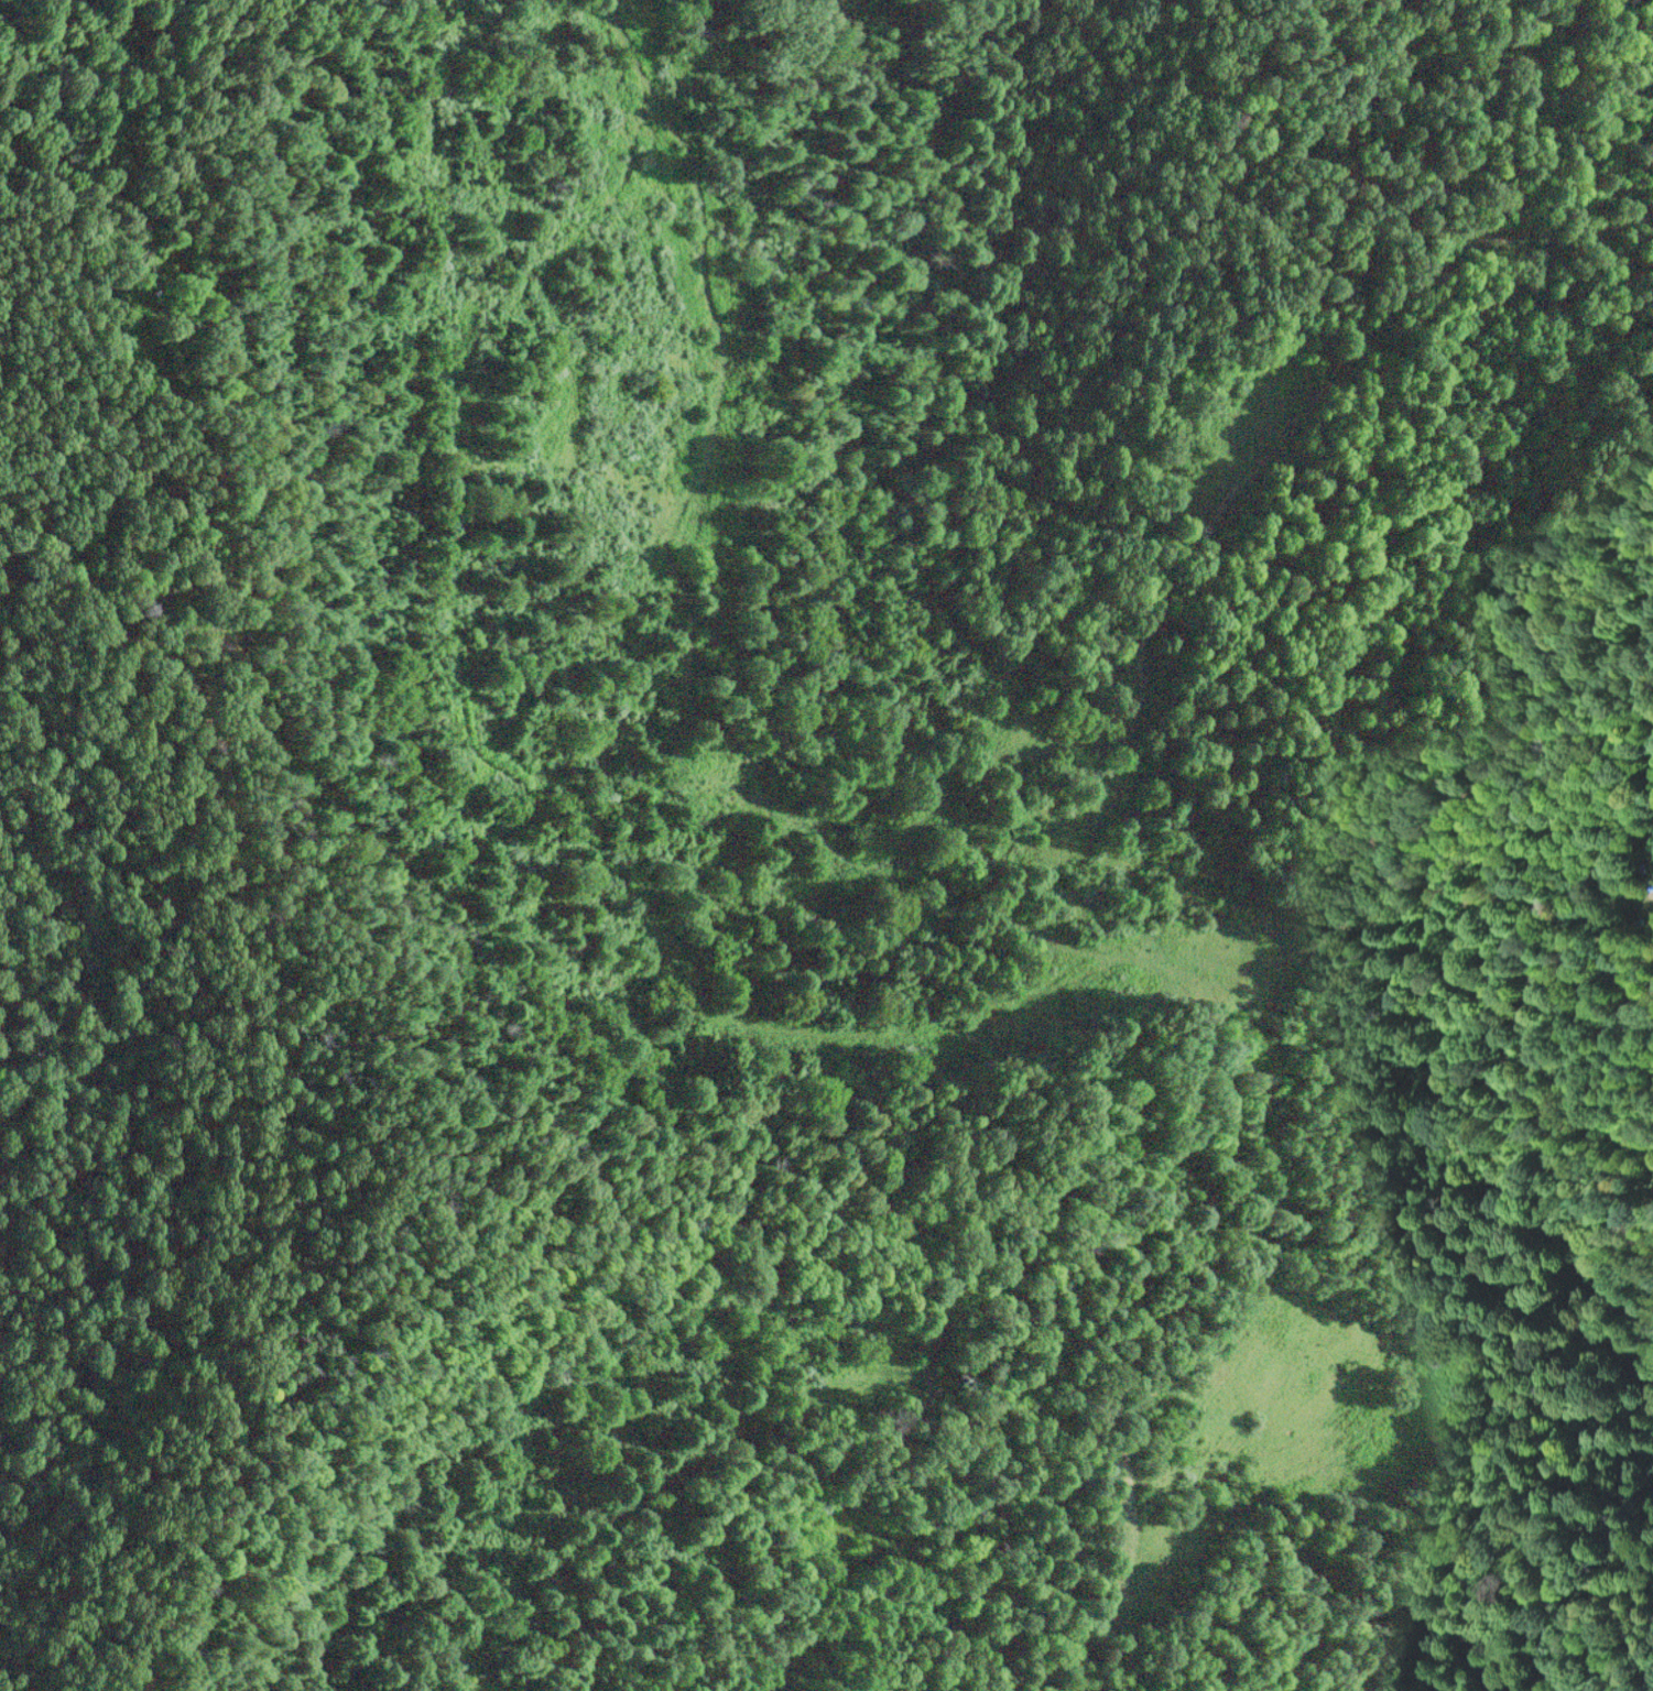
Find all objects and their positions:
road: (947, 822)
road: (1249, 1127)

